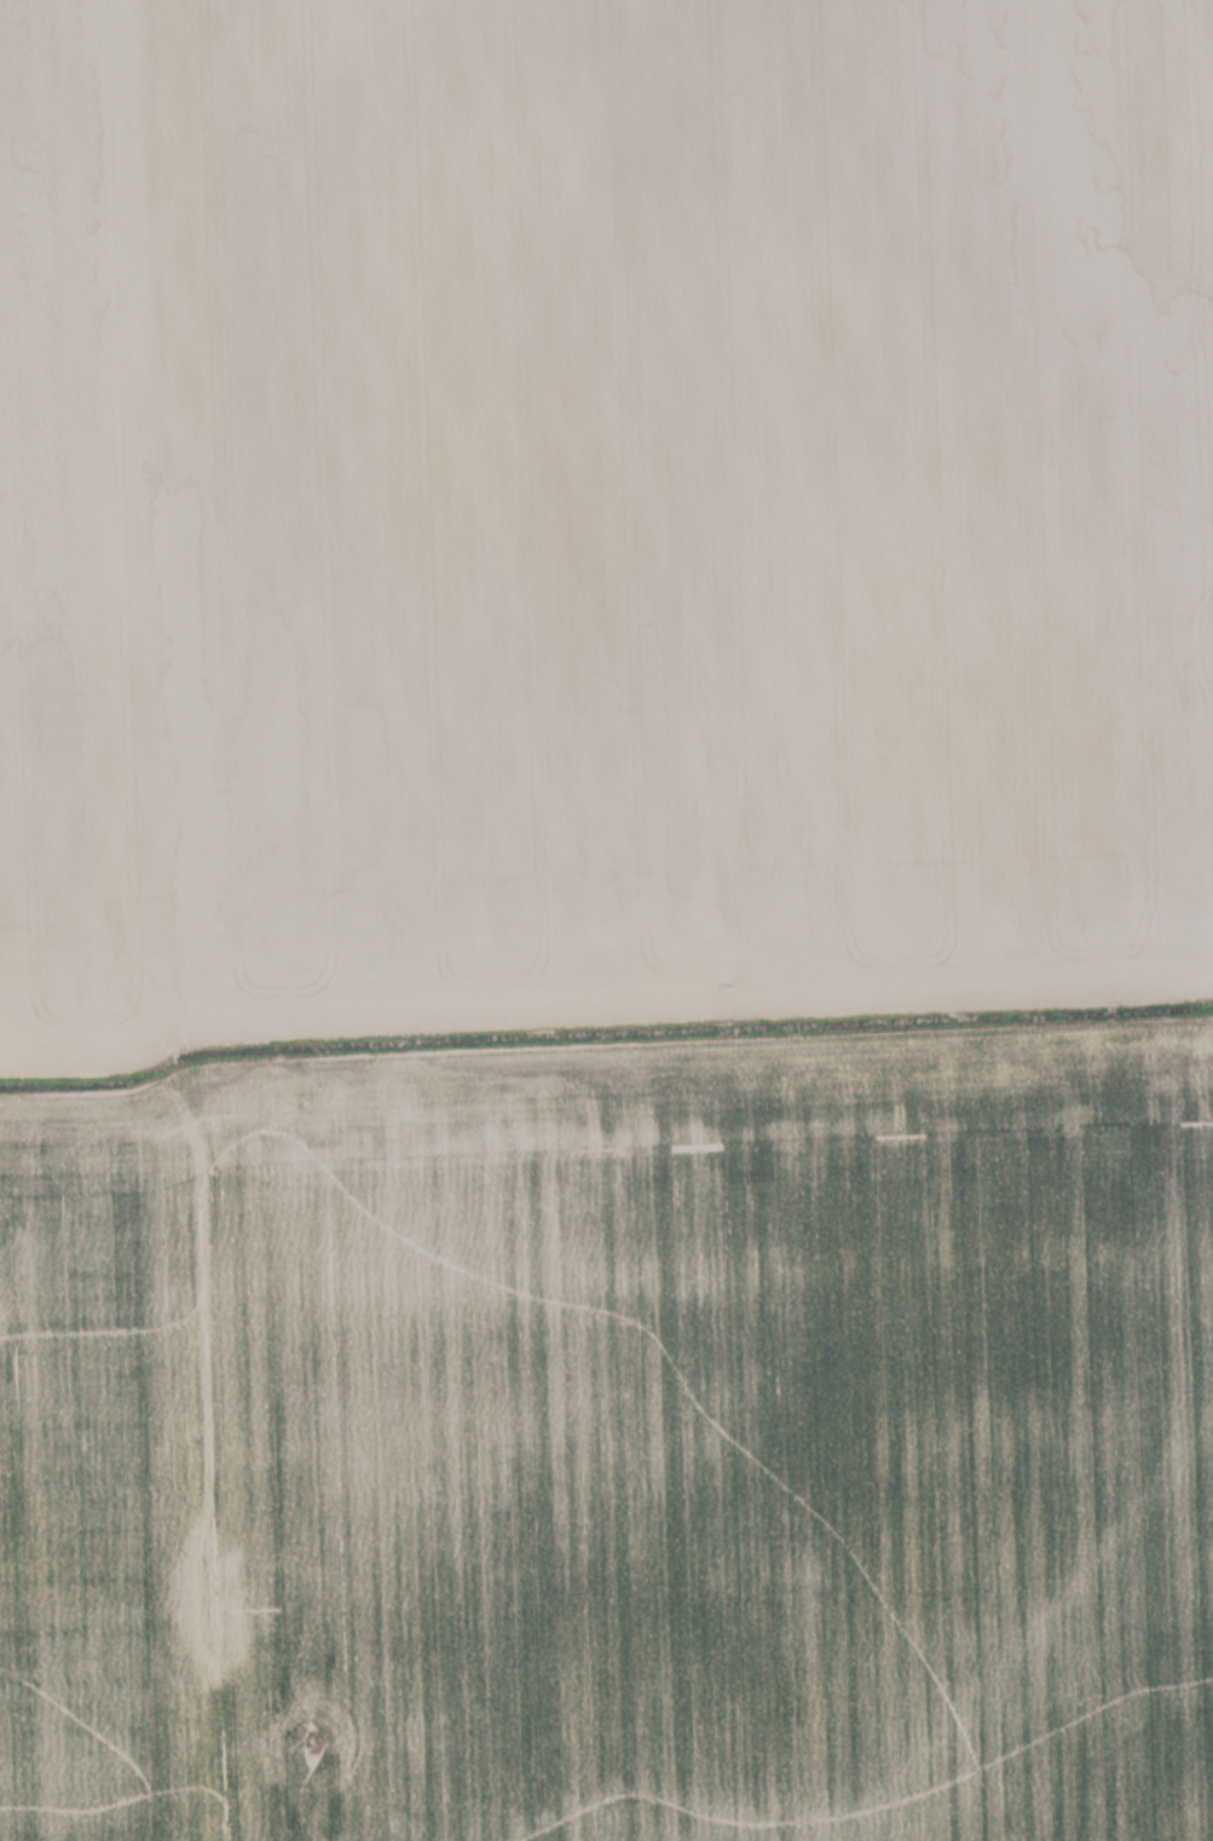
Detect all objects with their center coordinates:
power tower: (319, 1739)

